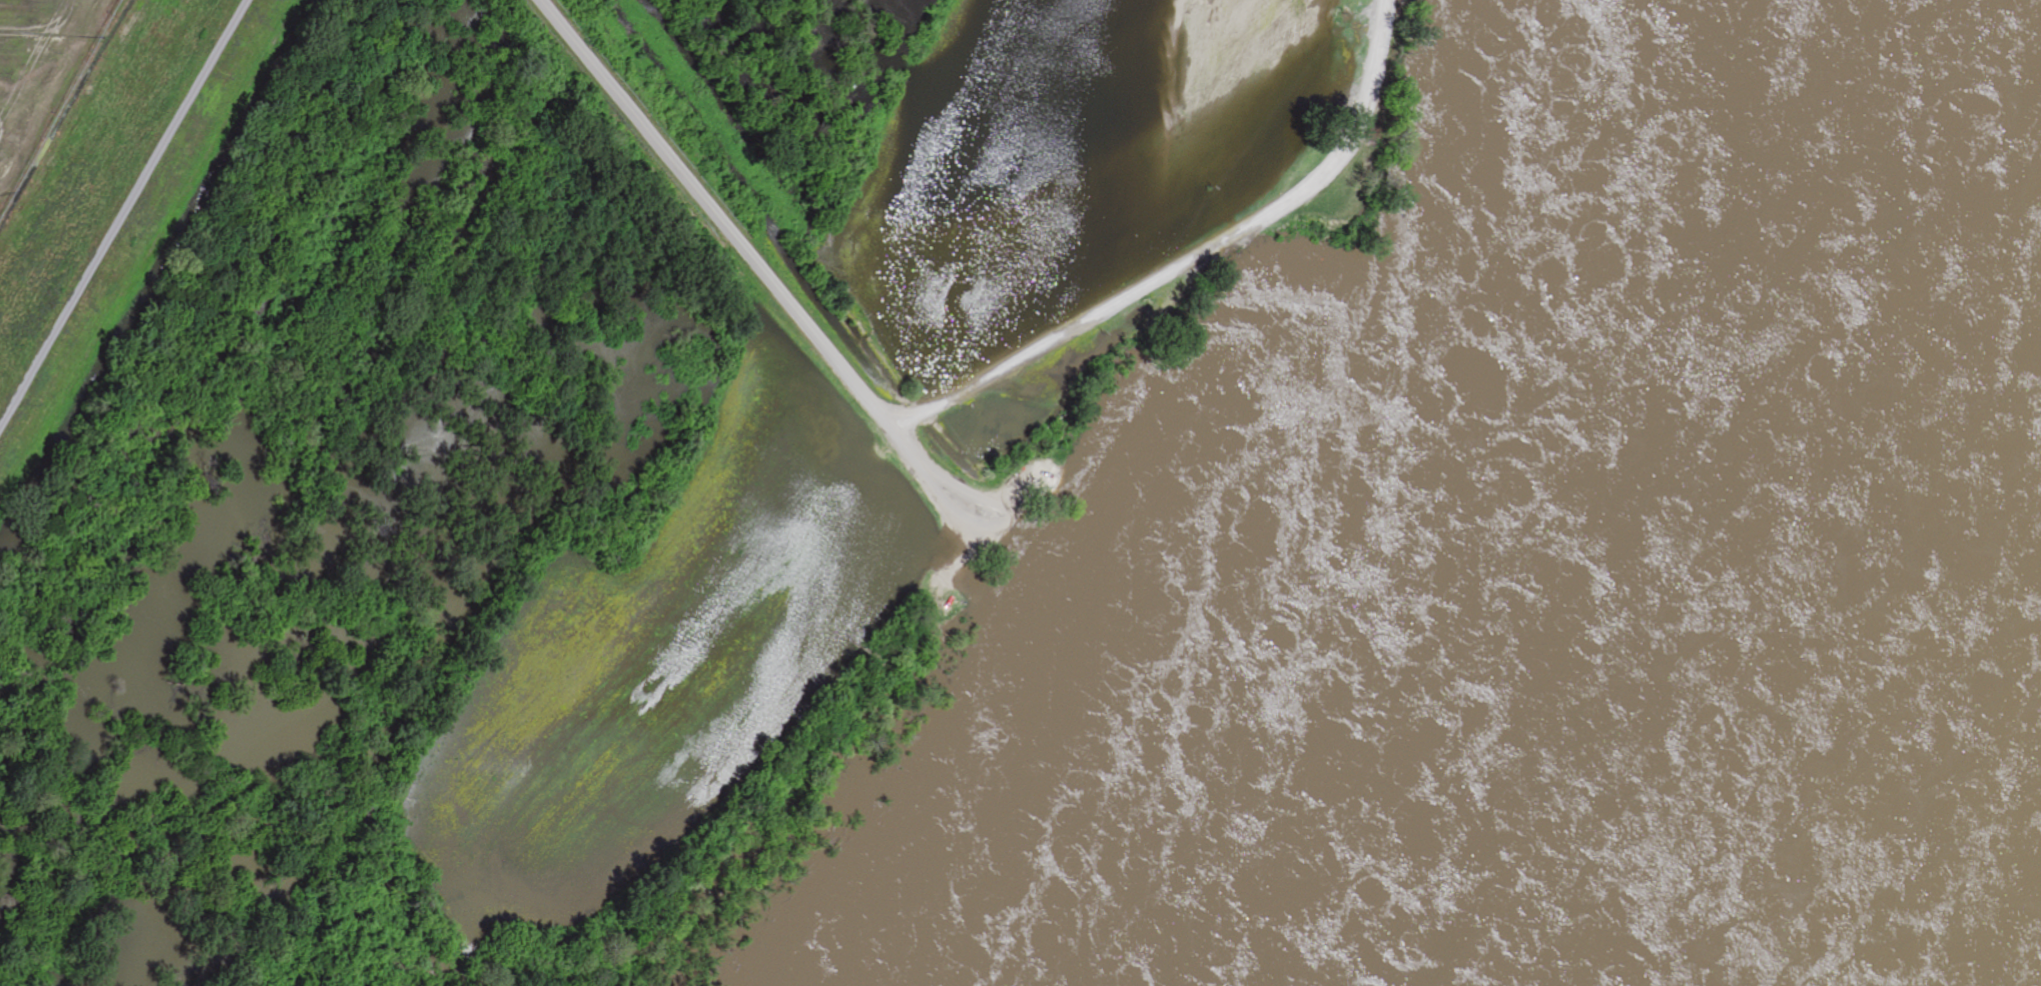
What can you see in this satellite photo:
road: (124, 214)
road: (1195, 257)
road: (805, 326)
river: (1835, 493)

